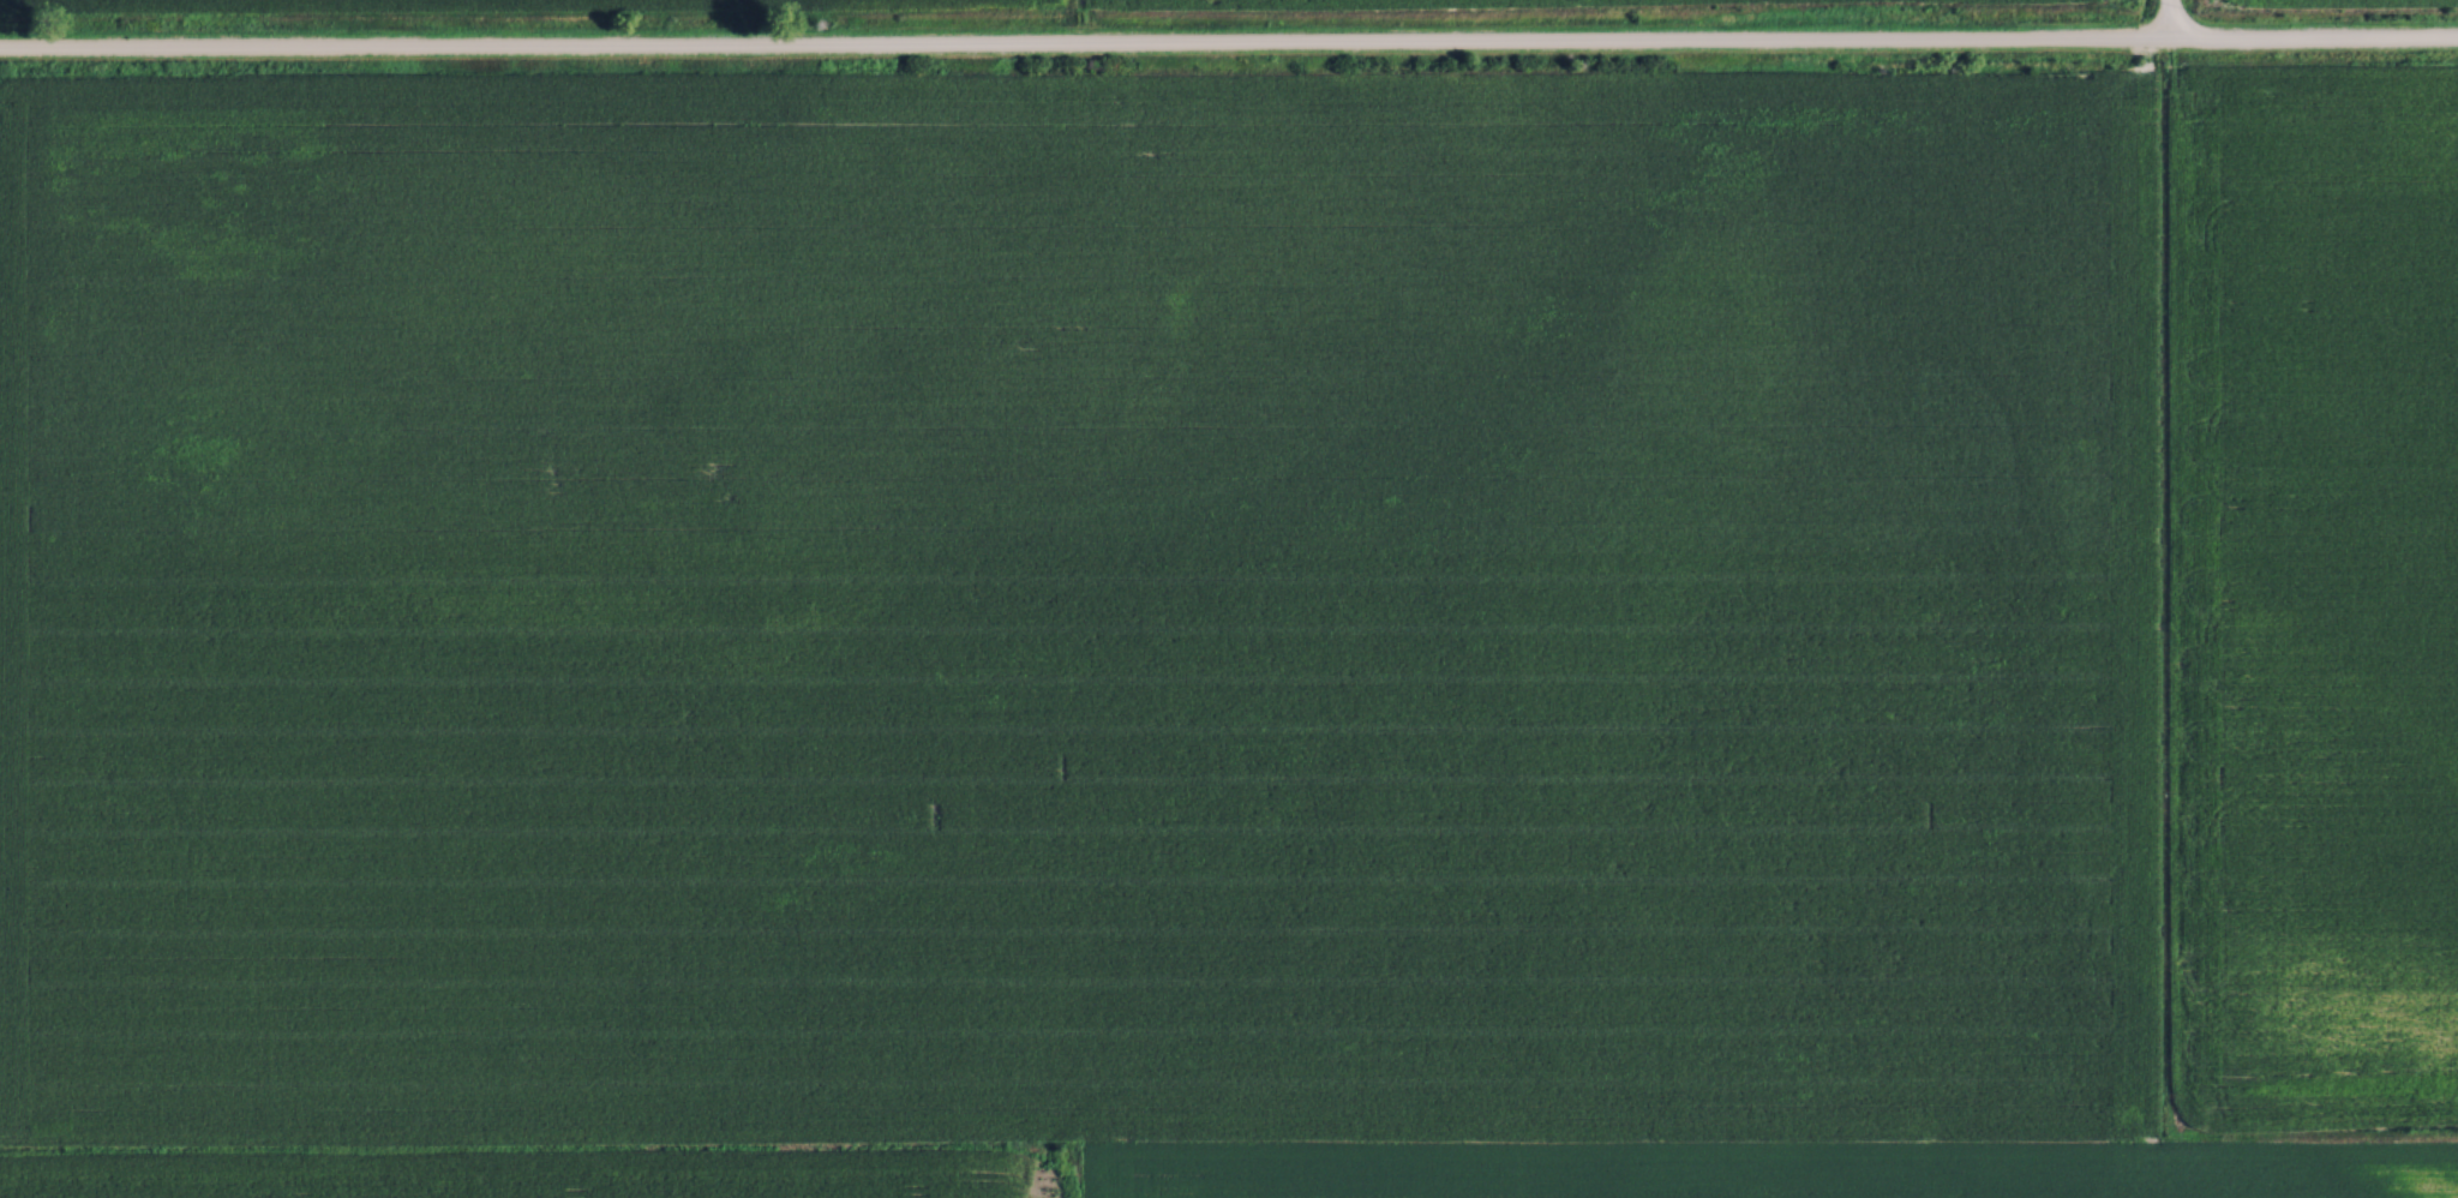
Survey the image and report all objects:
road: (2168, 22)
road: (1228, 47)

